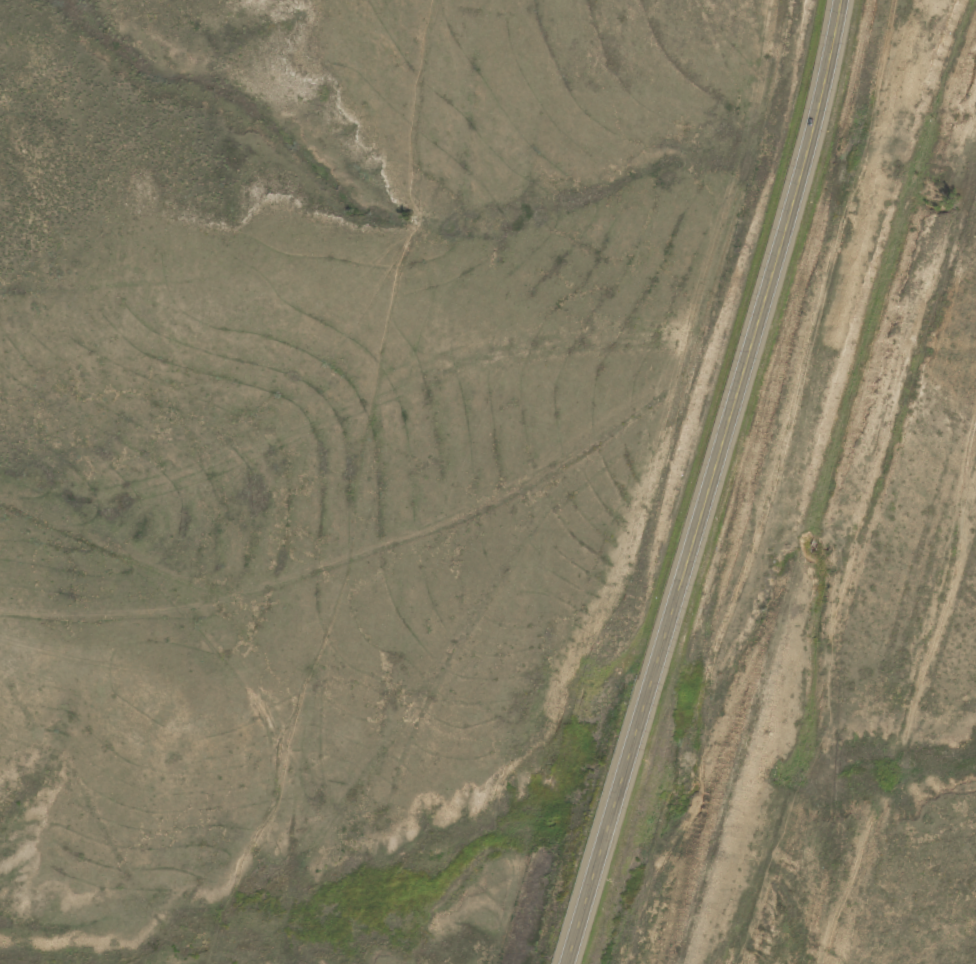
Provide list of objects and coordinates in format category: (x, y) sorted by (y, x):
road: (710, 484)

